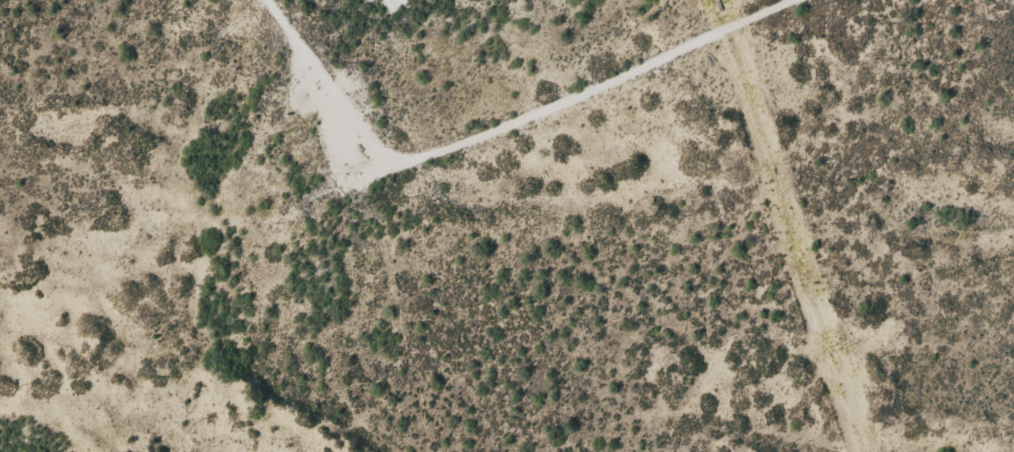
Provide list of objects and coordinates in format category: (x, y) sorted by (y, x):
road: (528, 134)

